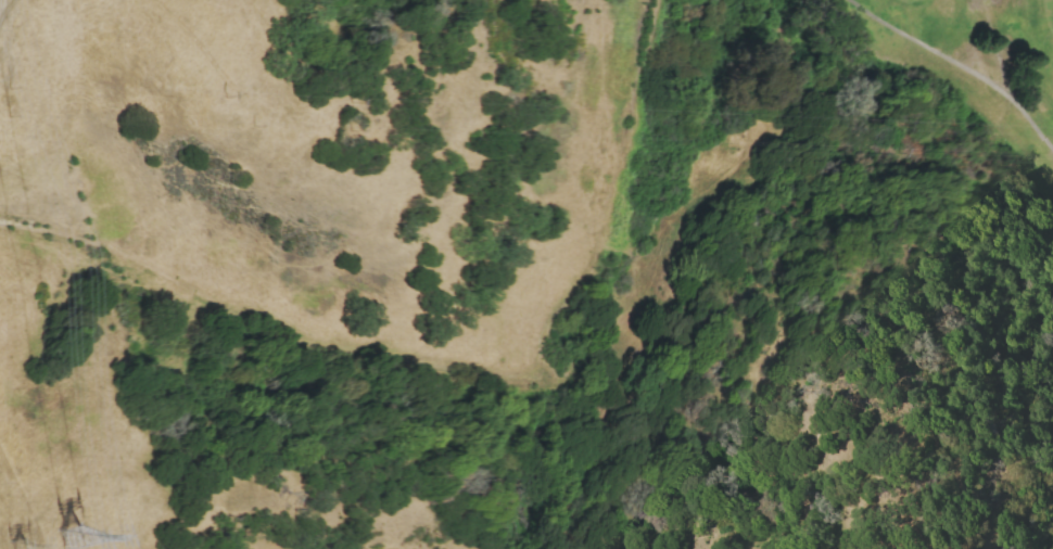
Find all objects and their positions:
road: (10, 13)
park: (944, 82)
road: (445, 360)
power tower: (71, 537)
power tower: (17, 547)

